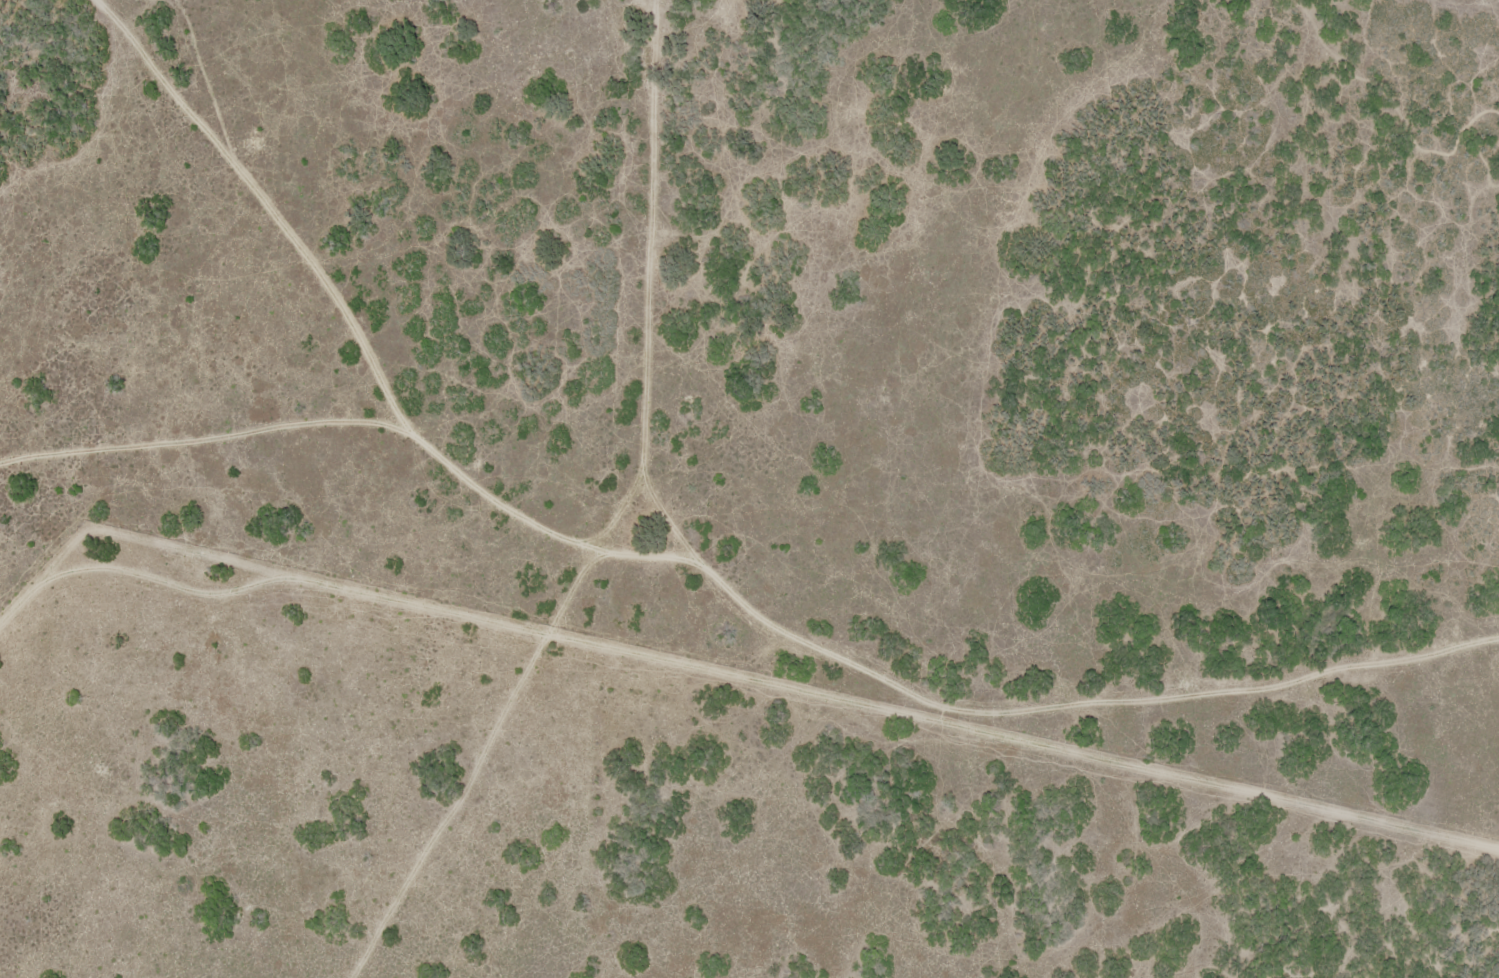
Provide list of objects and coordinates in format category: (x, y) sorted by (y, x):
road: (299, 253)
road: (598, 519)
road: (749, 624)
road: (985, 851)

